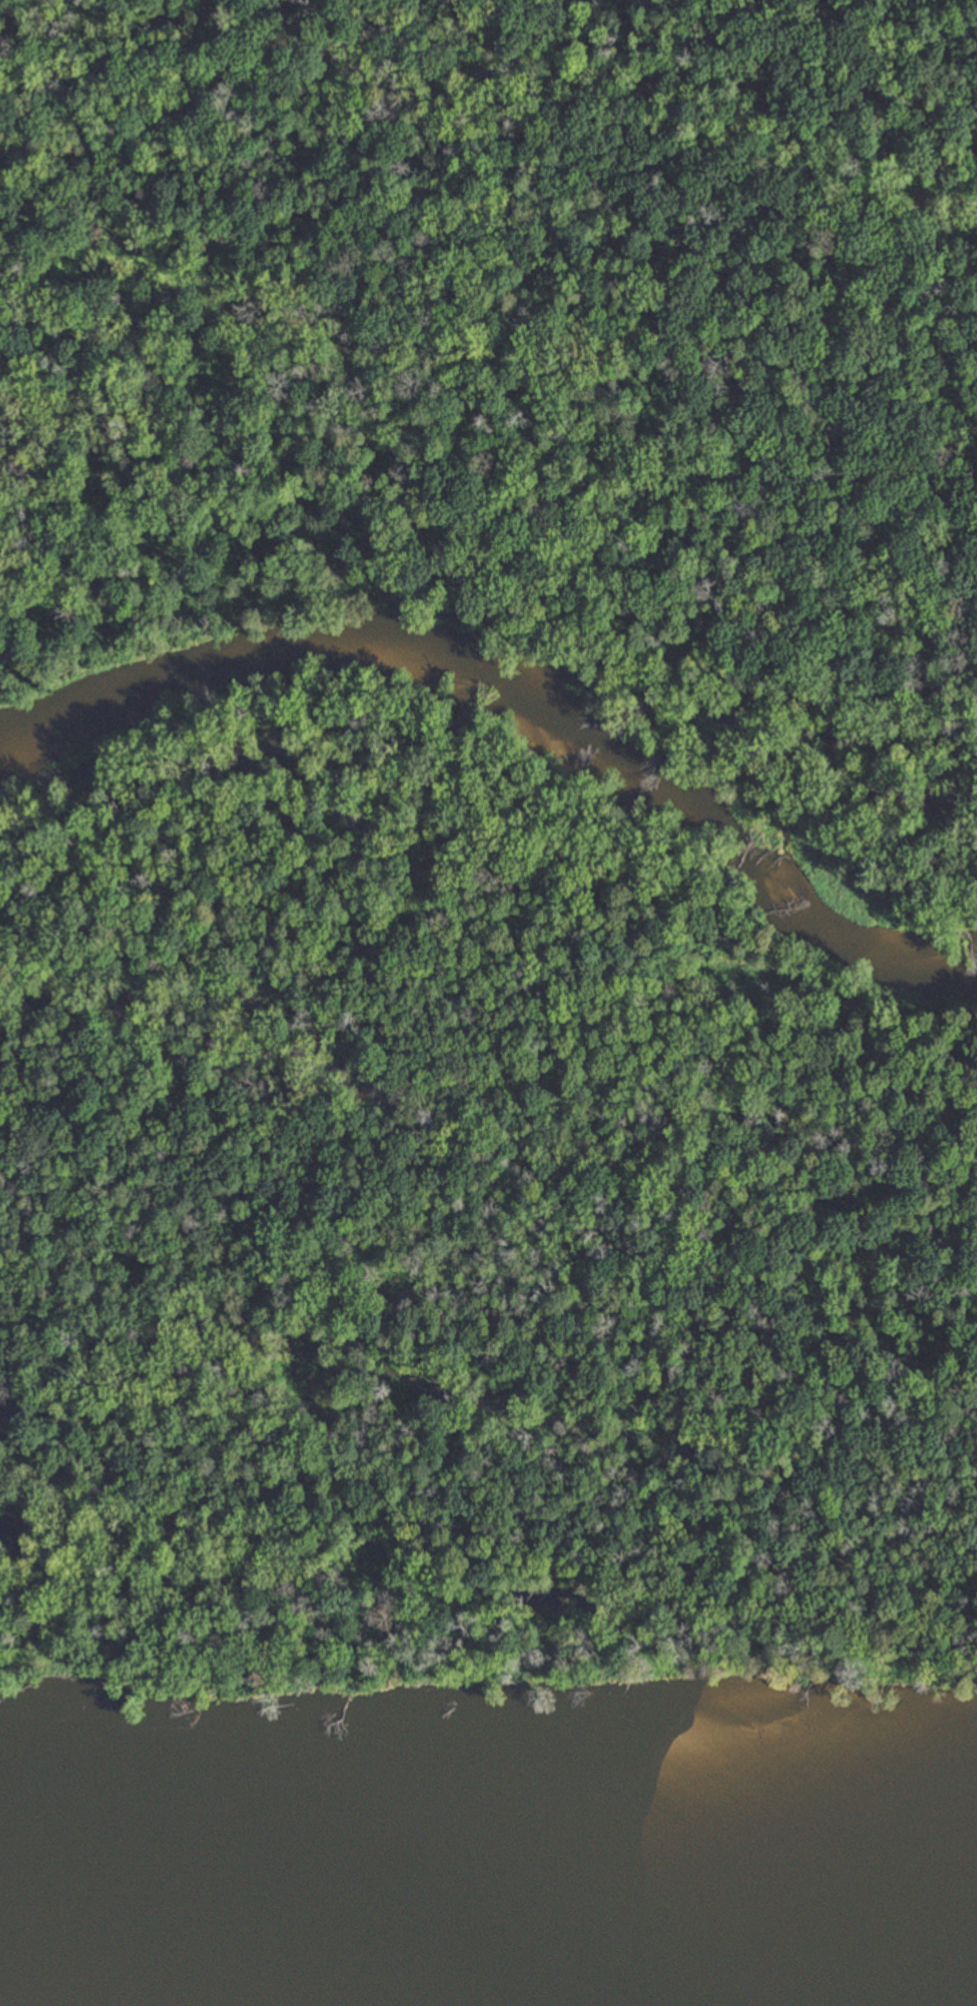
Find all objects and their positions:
river: (229, 1963)

